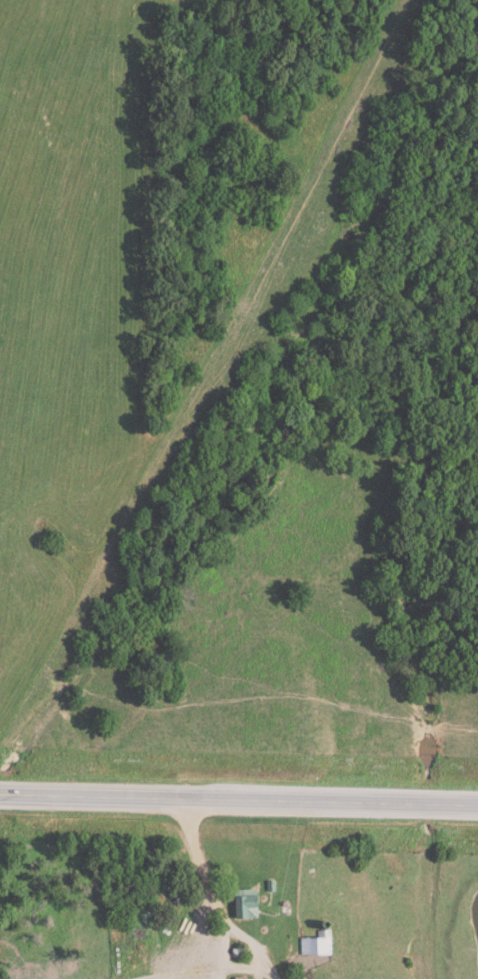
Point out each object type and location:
road: (238, 801)
road: (199, 868)
building: (242, 907)
building: (314, 947)

